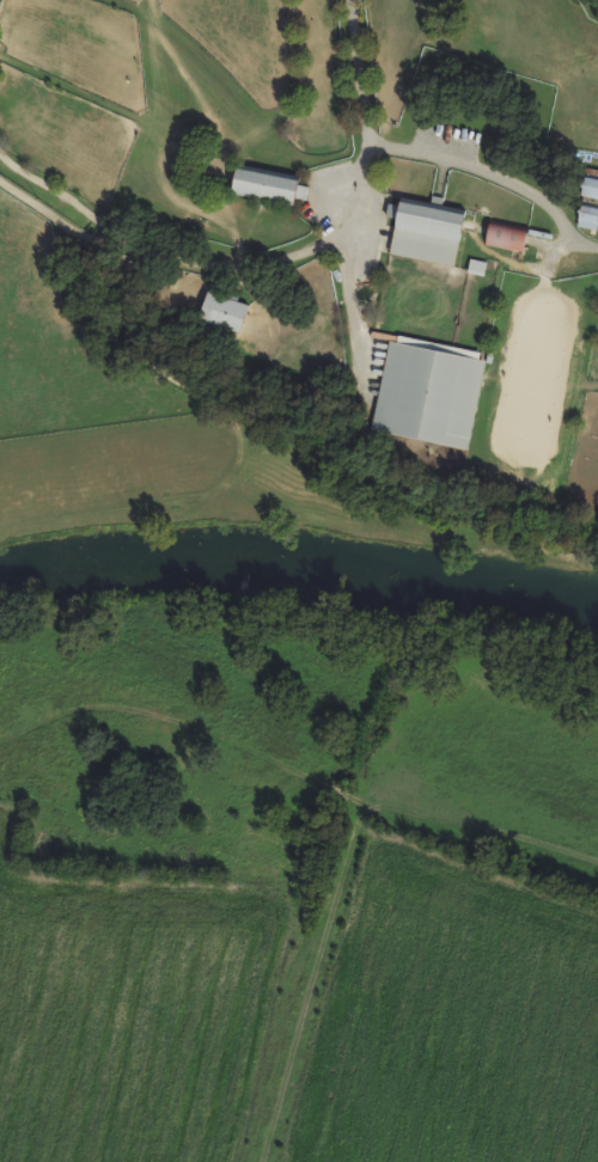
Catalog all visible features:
road: (490, 176)
road: (361, 177)
building: (261, 185)
building: (588, 188)
building: (586, 218)
building: (423, 231)
building: (504, 236)
building: (220, 312)
building: (426, 393)

